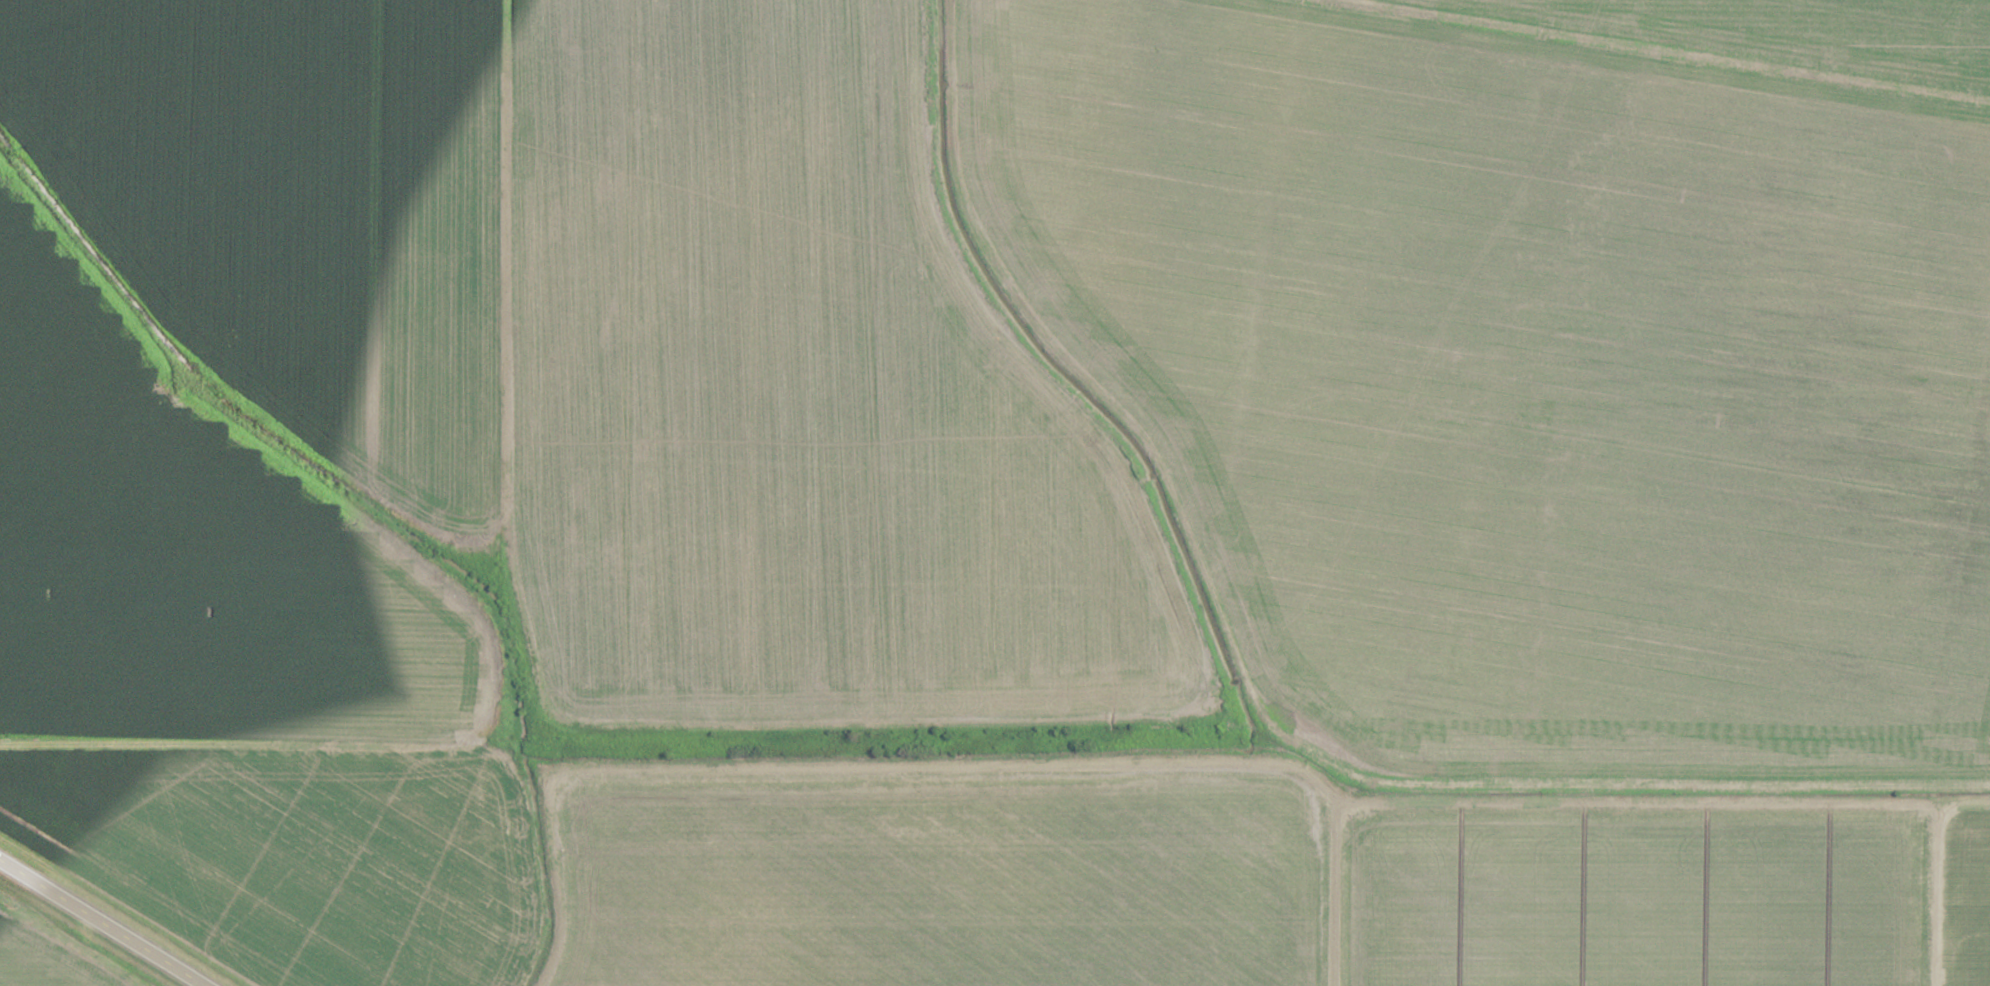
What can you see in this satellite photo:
road: (100, 924)

